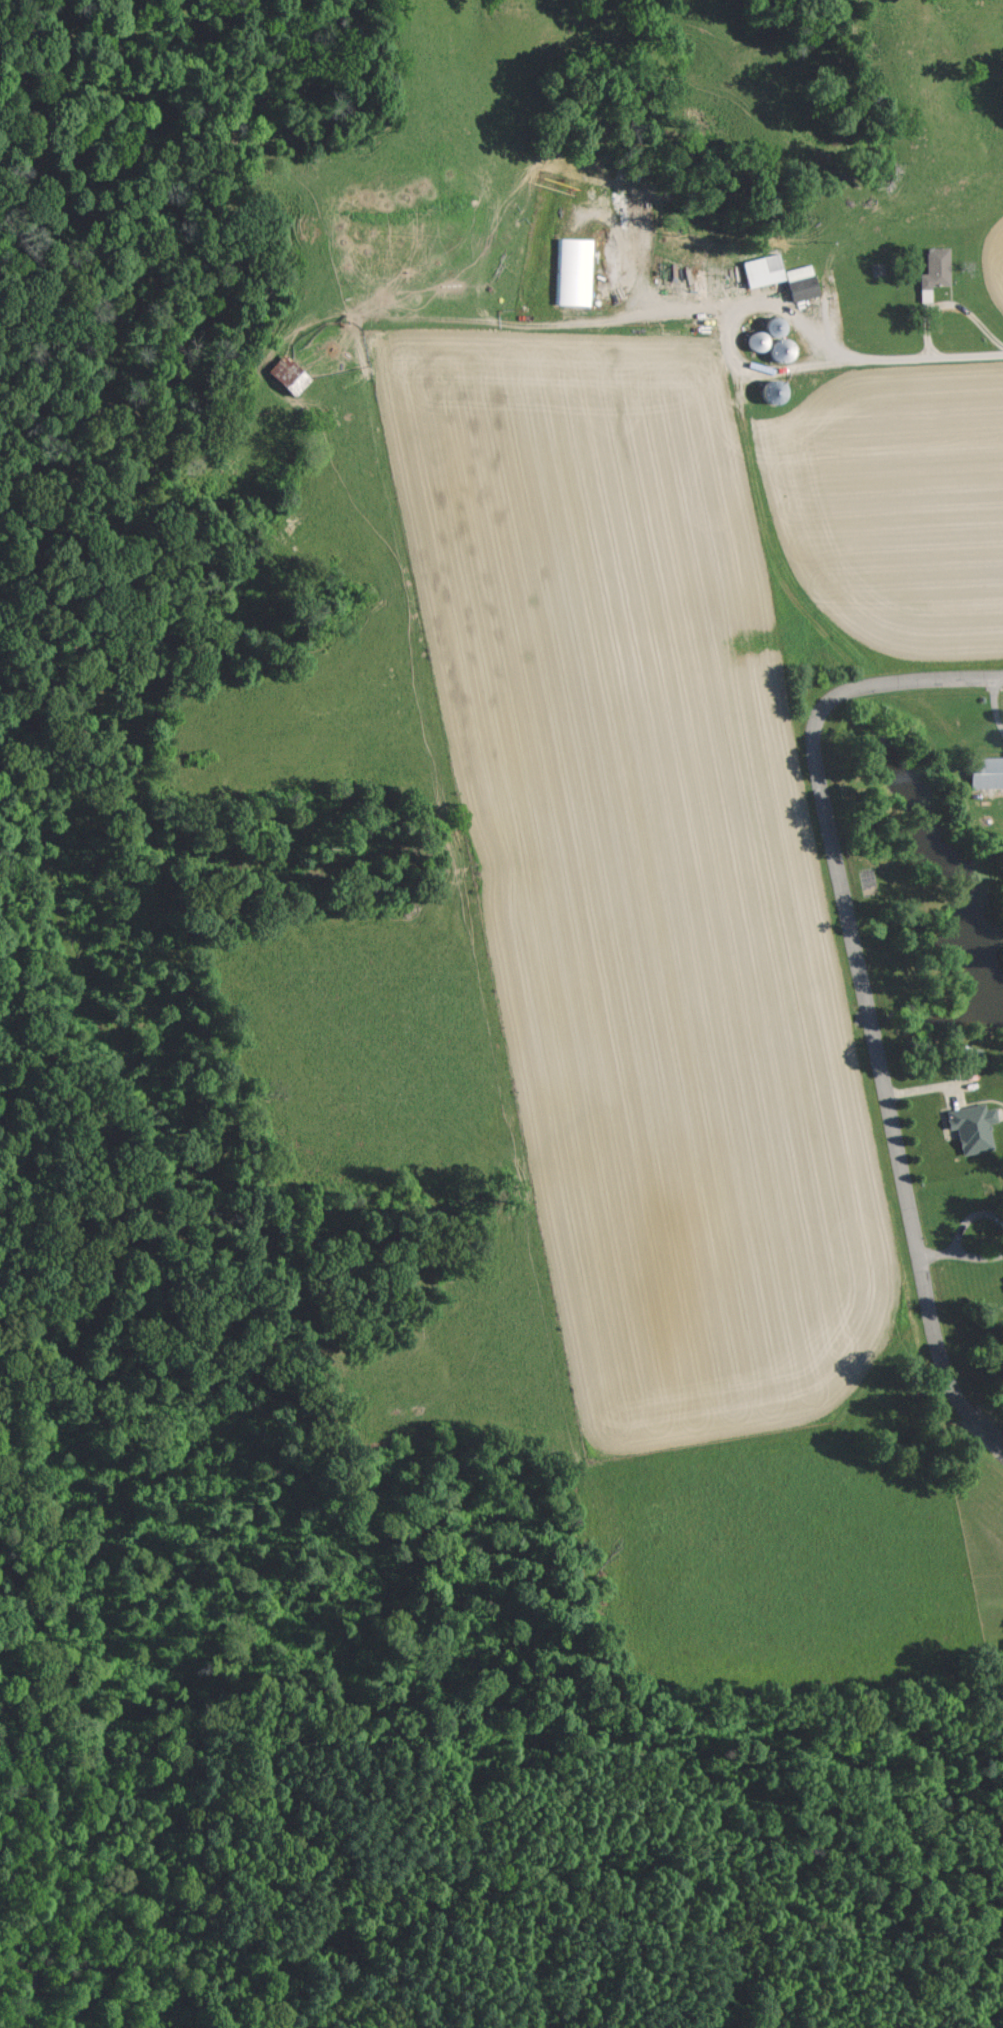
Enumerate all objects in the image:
building: (765, 269)
building: (576, 270)
building: (936, 270)
building: (803, 281)
road: (731, 319)
road: (919, 353)
building: (291, 373)
road: (995, 704)
building: (988, 772)
road: (865, 994)
building: (975, 1127)
road: (969, 1220)
road: (938, 1257)
road: (979, 1260)

